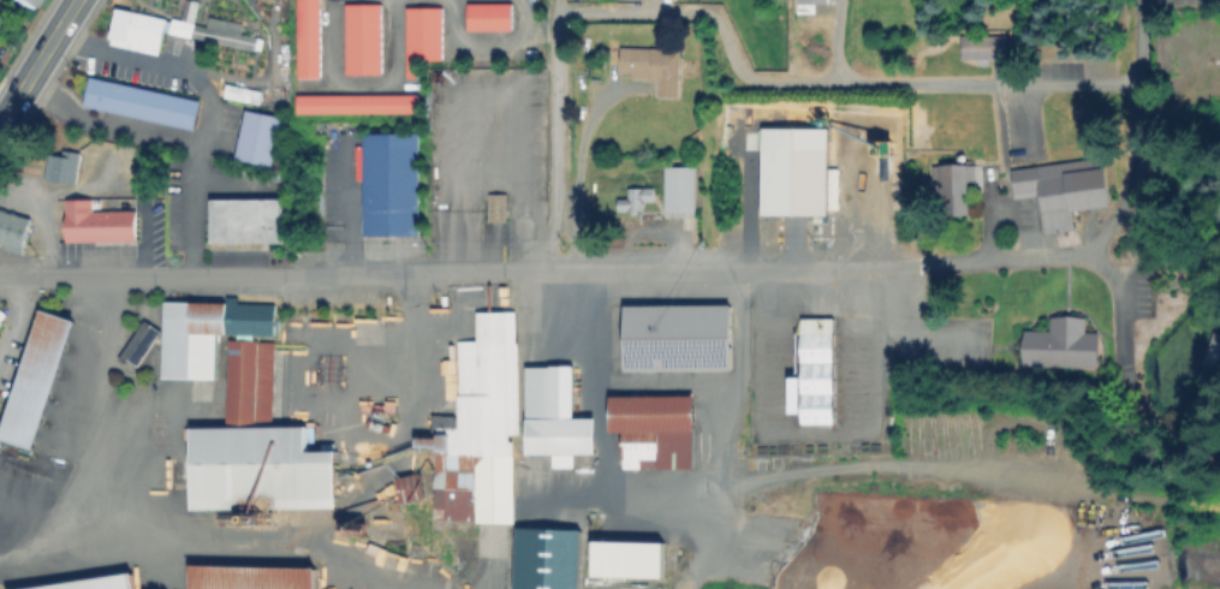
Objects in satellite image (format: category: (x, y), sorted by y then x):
road: (1142, 0)
building: (31, 1)
building: (810, 5)
building: (493, 18)
road: (85, 24)
building: (173, 31)
building: (425, 36)
road: (835, 36)
building: (311, 38)
building: (365, 40)
building: (988, 49)
road: (38, 64)
building: (655, 67)
road: (774, 72)
road: (1118, 76)
building: (244, 95)
building: (137, 105)
building: (361, 105)
road: (204, 131)
road: (557, 136)
building: (255, 141)
building: (60, 168)
building: (795, 172)
building: (388, 188)
building: (682, 190)
building: (1057, 190)
building: (951, 191)
building: (637, 200)
building: (499, 209)
building: (248, 221)
building: (101, 224)
building: (12, 231)
road: (1061, 240)
road: (691, 270)
road: (278, 273)
building: (1, 314)
road: (13, 315)
building: (0, 325)
building: (195, 338)
building: (680, 339)
road: (926, 339)
building: (143, 345)
building: (1063, 345)
building: (1212, 355)
building: (252, 367)
building: (817, 373)
road: (669, 380)
building: (32, 381)
road: (734, 398)
building: (558, 418)
building: (476, 429)
road: (820, 430)
building: (657, 432)
road: (95, 438)
road: (607, 460)
road: (895, 464)
building: (263, 470)
building: (412, 487)
building: (544, 558)
building: (631, 561)
building: (248, 579)
building: (95, 585)

